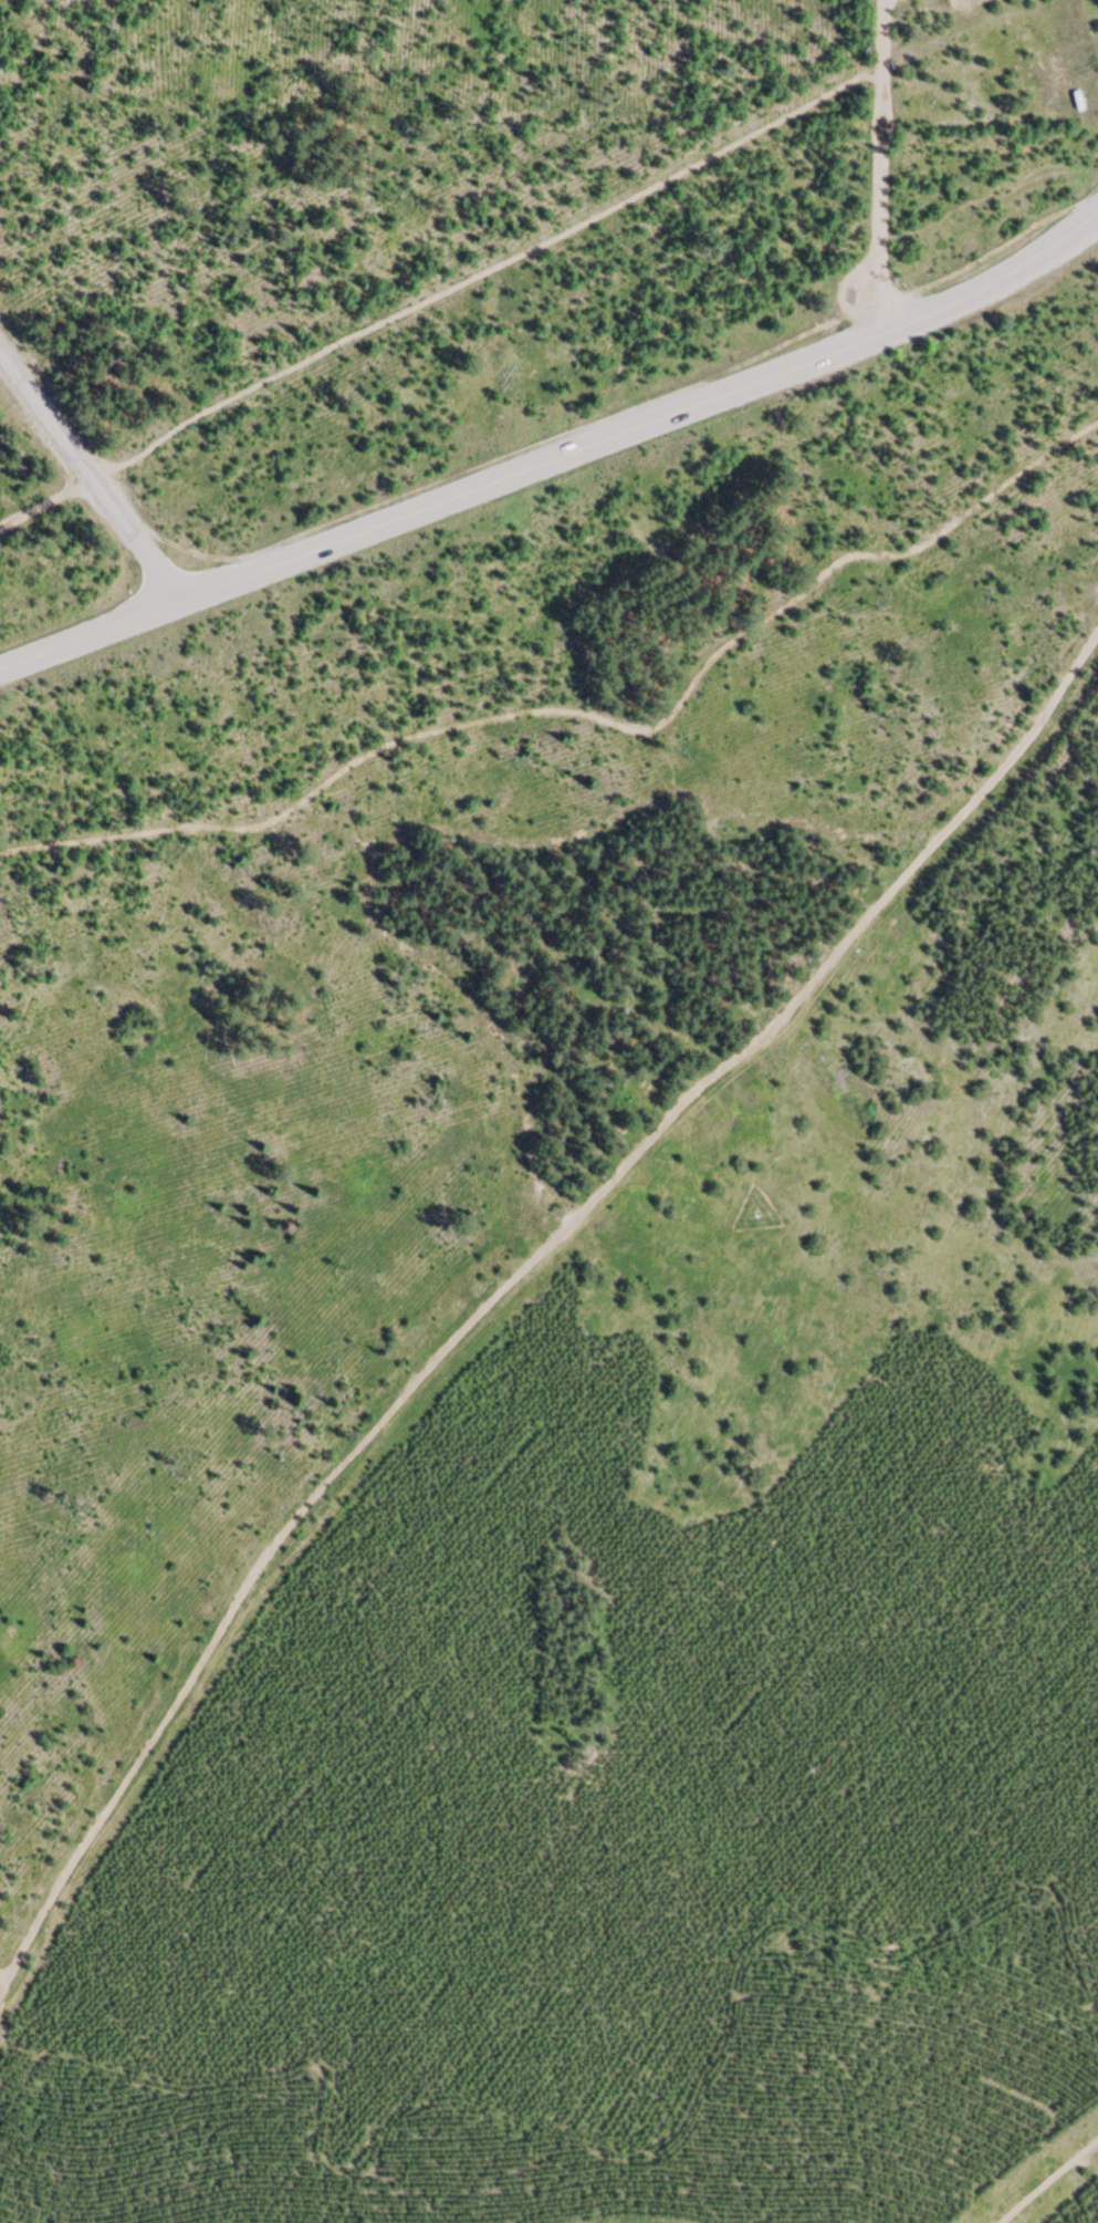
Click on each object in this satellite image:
road: (882, 168)
road: (556, 457)
road: (92, 479)
road: (508, 1284)
road: (1049, 2182)

